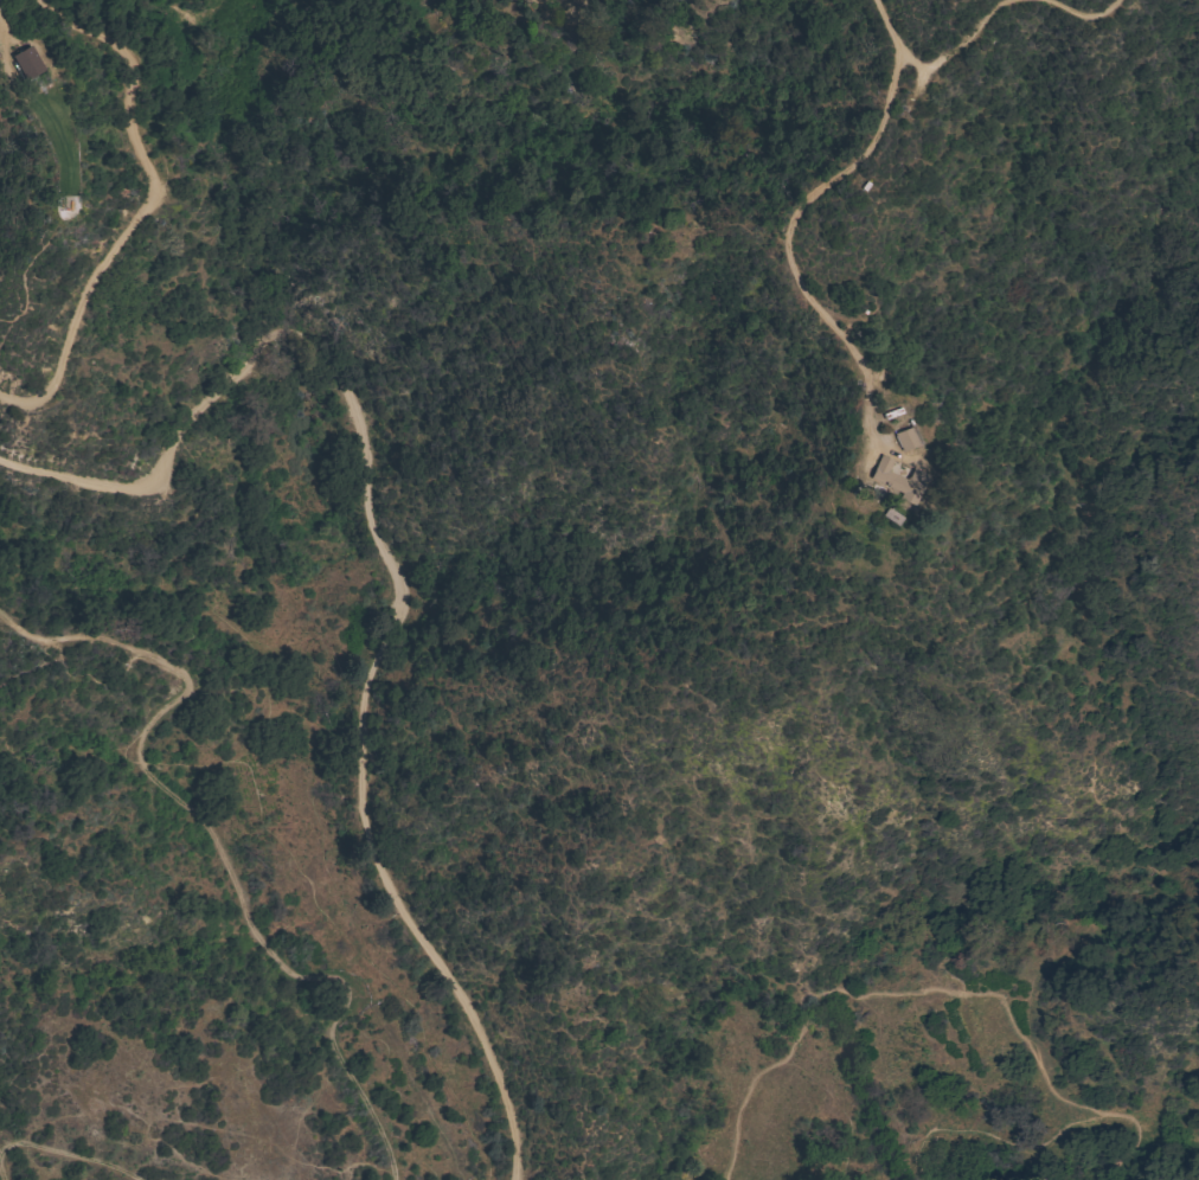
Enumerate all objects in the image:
road: (1081, 18)
road: (937, 63)
building: (24, 64)
road: (123, 233)
road: (786, 237)
building: (903, 438)
building: (895, 479)
building: (889, 515)
road: (392, 546)
road: (214, 842)
road: (872, 993)
road: (1103, 1137)
road: (1035, 1143)
road: (68, 1152)
road: (0, 1178)

